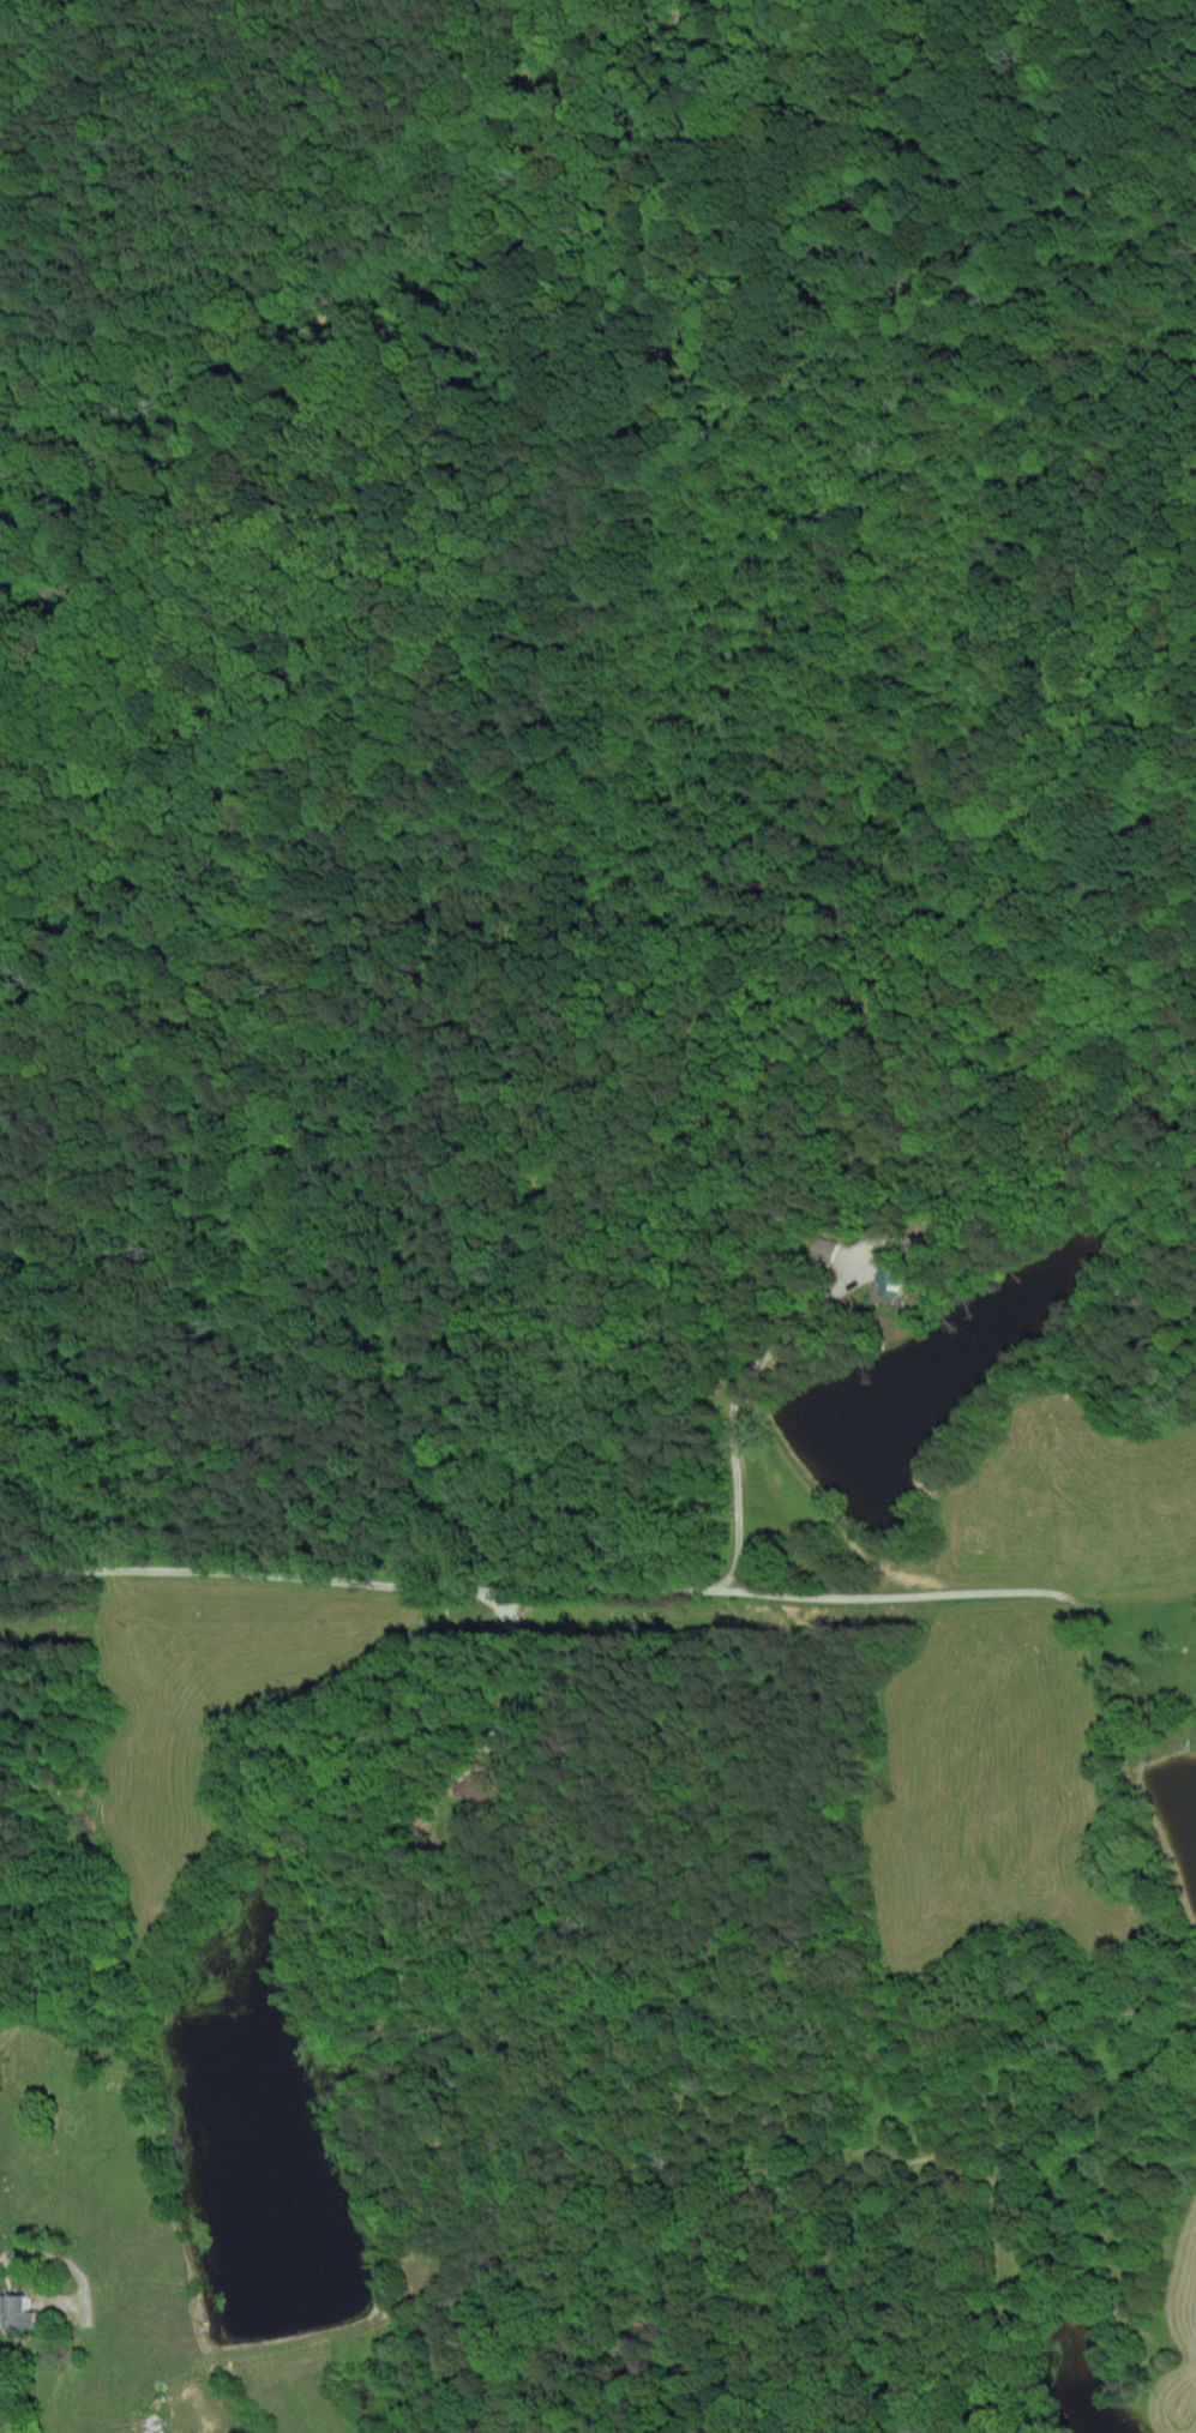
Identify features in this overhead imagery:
building: (13, 2309)

